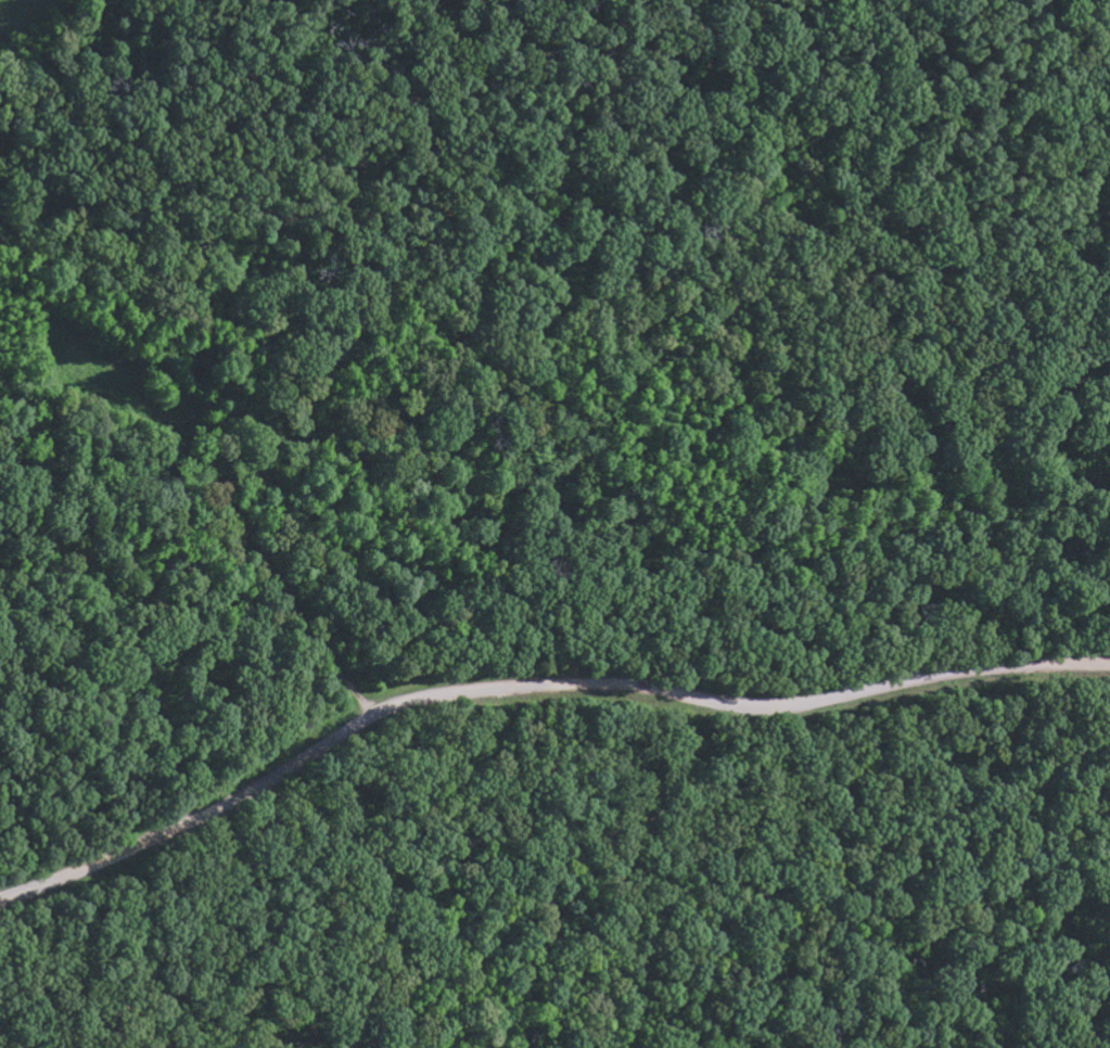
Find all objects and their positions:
road: (533, 687)

